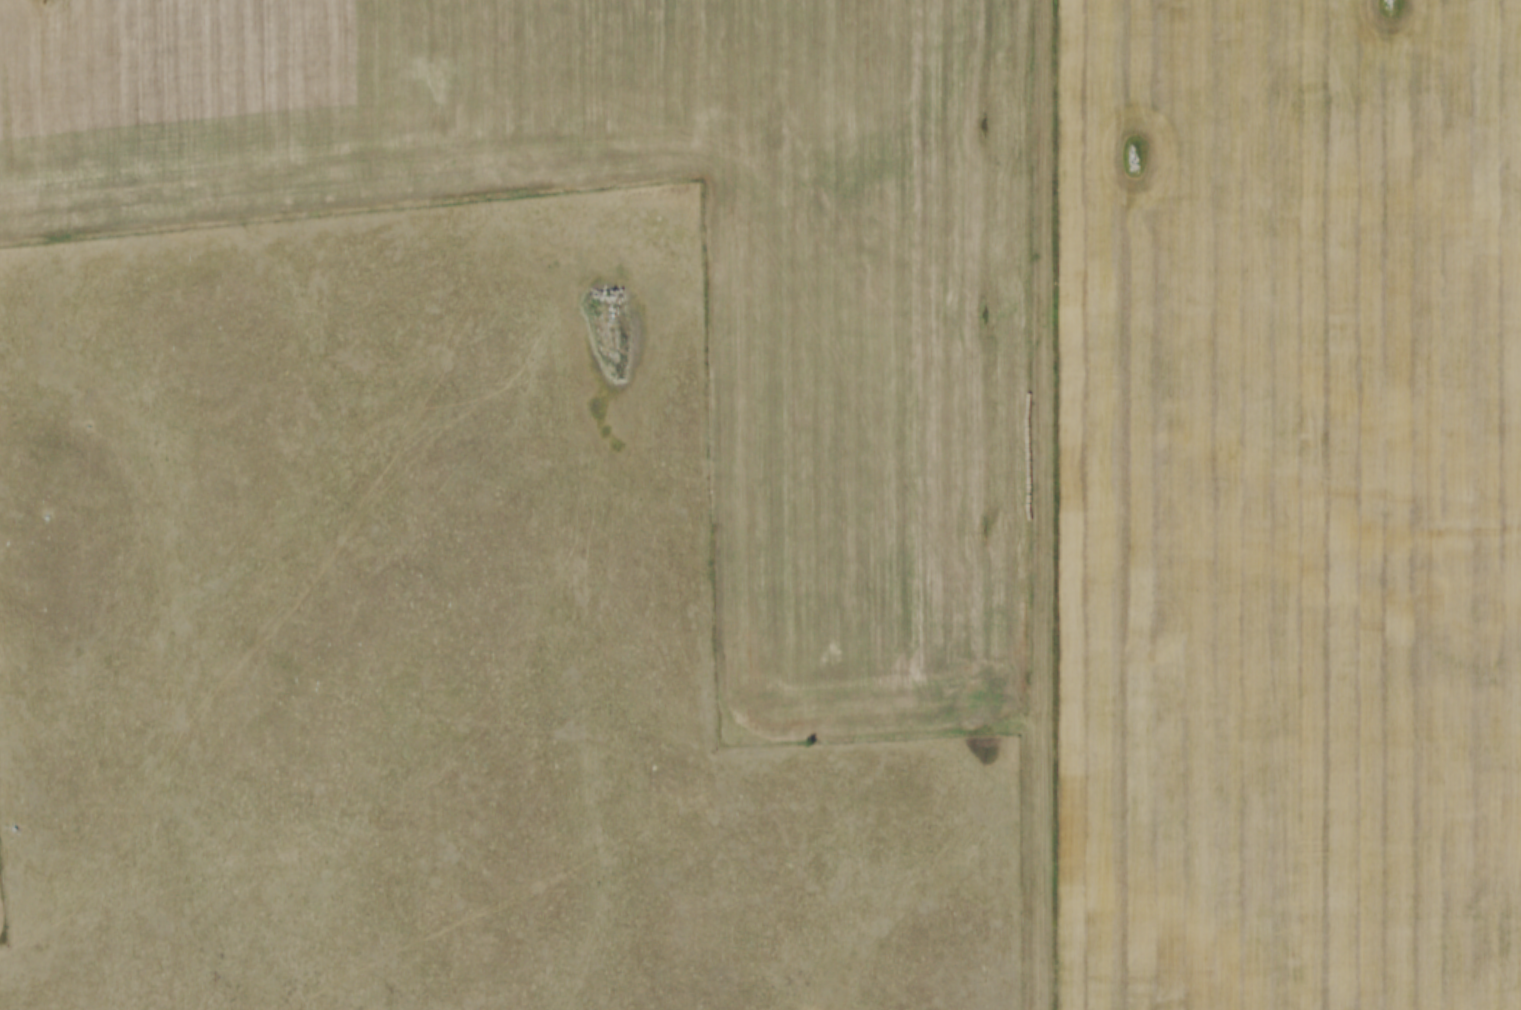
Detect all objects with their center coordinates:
road: (1042, 504)

